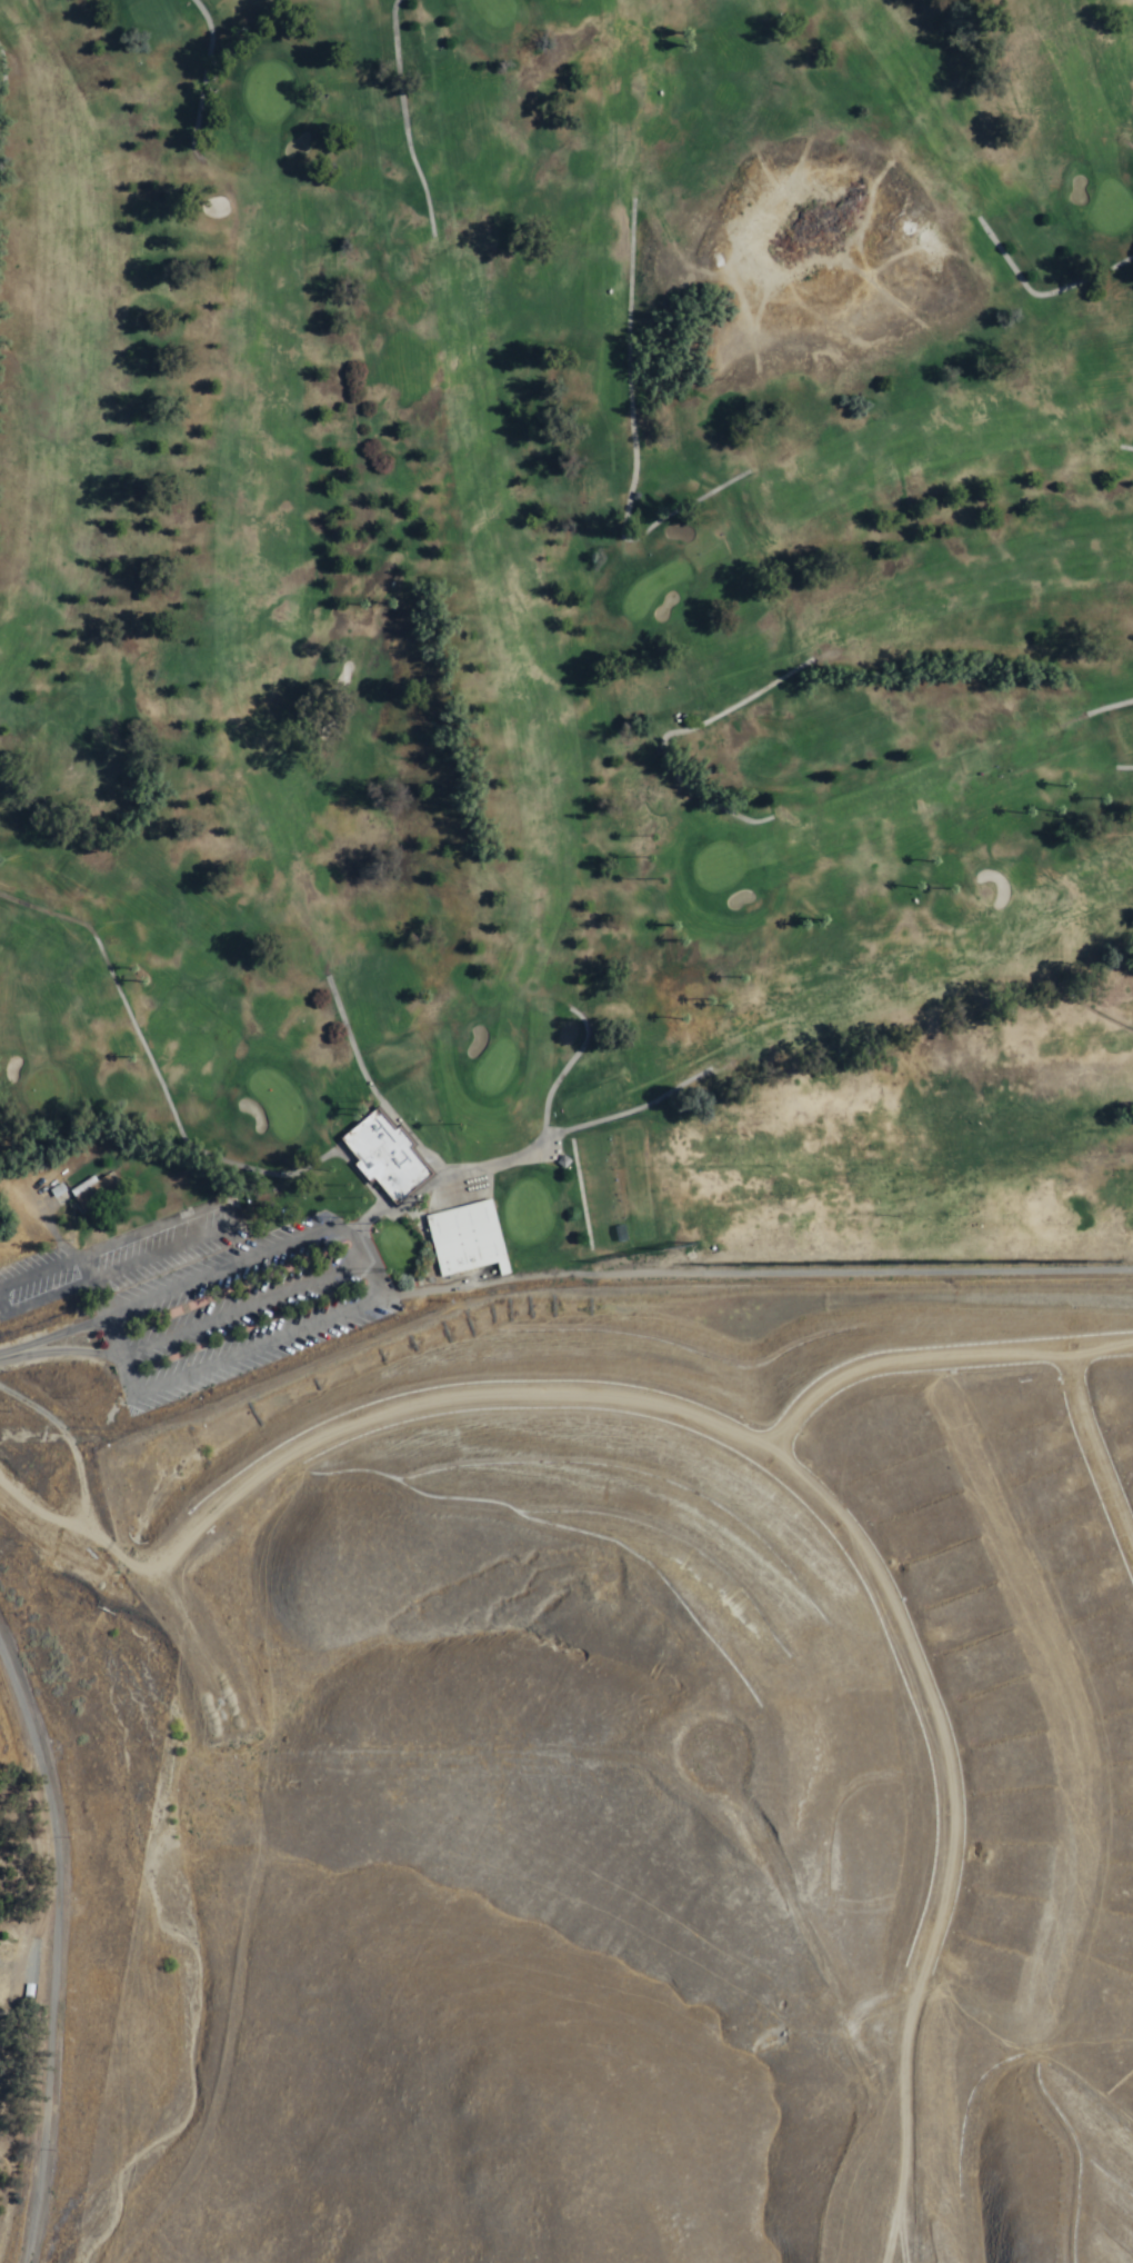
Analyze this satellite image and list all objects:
park: (558, 656)
park: (552, 664)
park: (552, 664)
building: (385, 1153)
building: (92, 1188)
building: (62, 1194)
building: (467, 1236)
parking lot: (211, 1287)
road: (357, 1315)
road: (46, 1337)
road: (79, 1482)
road: (42, 1512)

